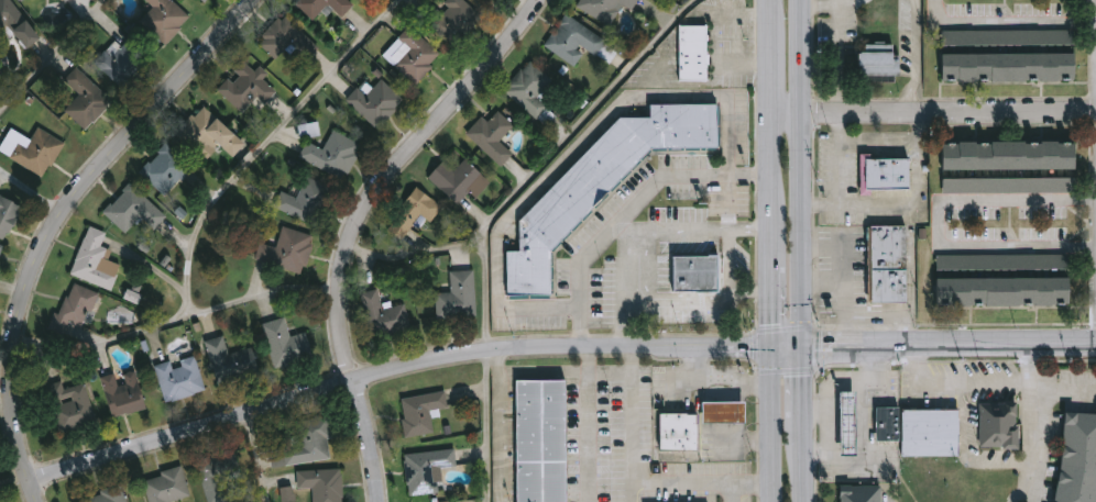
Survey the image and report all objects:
building: (46, 0)
building: (65, 0)
building: (201, 0)
building: (204, 0)
building: (495, 0)
road: (848, 1)
building: (322, 7)
building: (605, 8)
building: (163, 19)
building: (456, 21)
building: (17, 22)
road: (1008, 24)
road: (714, 40)
road: (840, 40)
building: (574, 41)
building: (286, 44)
building: (692, 52)
building: (414, 54)
building: (1008, 54)
road: (54, 57)
building: (878, 57)
road: (917, 57)
building: (120, 62)
building: (528, 88)
building: (246, 89)
building: (80, 94)
building: (374, 101)
road: (935, 112)
building: (209, 134)
building: (492, 136)
road: (894, 142)
building: (37, 152)
building: (333, 155)
road: (550, 156)
building: (1009, 166)
building: (166, 169)
road: (391, 169)
road: (776, 172)
building: (887, 172)
road: (805, 174)
road: (841, 176)
building: (459, 180)
building: (600, 185)
road: (32, 191)
road: (213, 201)
building: (306, 201)
road: (909, 203)
road: (631, 208)
building: (131, 209)
road: (67, 210)
building: (414, 213)
building: (8, 215)
road: (938, 224)
road: (752, 233)
road: (648, 243)
building: (1, 248)
building: (285, 252)
building: (95, 260)
building: (887, 264)
road: (728, 265)
building: (1002, 279)
building: (694, 280)
road: (824, 280)
road: (843, 280)
building: (458, 295)
road: (736, 295)
building: (133, 297)
road: (690, 297)
building: (74, 306)
road: (621, 312)
building: (383, 316)
road: (907, 328)
road: (103, 343)
building: (287, 344)
road: (935, 346)
traffic signals: (775, 347)
traffic signals: (805, 348)
road: (585, 357)
road: (632, 359)
building: (230, 361)
road: (394, 368)
parking lot: (995, 369)
road: (544, 371)
road: (610, 371)
parking lot: (1071, 377)
building: (179, 379)
road: (716, 383)
road: (976, 383)
road: (805, 390)
building: (122, 393)
road: (834, 395)
parking lot: (996, 395)
building: (69, 406)
road: (820, 408)
building: (724, 412)
building: (420, 413)
road: (500, 424)
road: (776, 424)
building: (851, 424)
gas station: (851, 424)
building: (887, 424)
building: (1000, 426)
building: (678, 432)
building: (932, 434)
road: (588, 436)
road: (370, 439)
building: (539, 440)
building: (306, 444)
road: (1034, 445)
building: (1079, 454)
road: (256, 457)
road: (807, 468)
building: (426, 470)
building: (220, 477)
road: (649, 481)
building: (322, 484)
building: (166, 487)
road: (33, 490)
road: (731, 492)
building: (862, 494)
building: (105, 495)
building: (0, 501)

